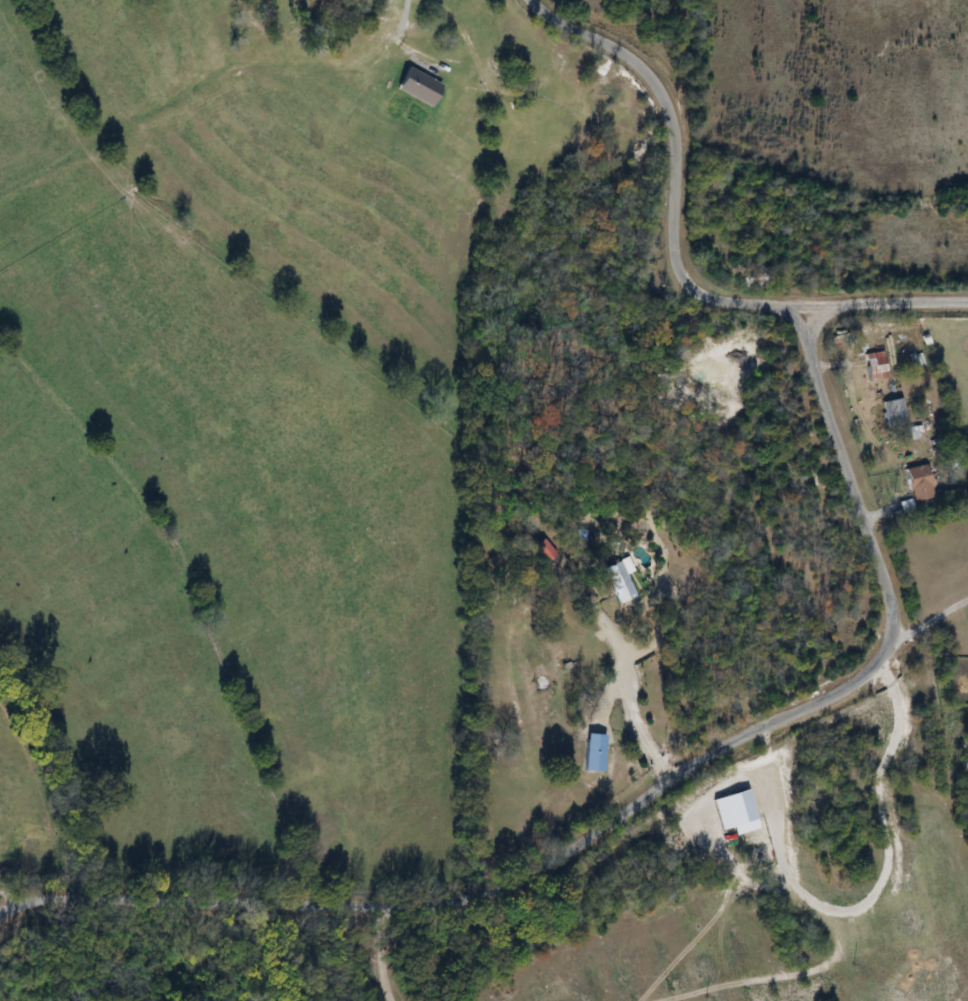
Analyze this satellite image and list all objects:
road: (675, 166)
road: (884, 302)
building: (875, 366)
building: (892, 412)
building: (918, 482)
building: (544, 550)
building: (621, 581)
road: (928, 620)
road: (627, 691)
building: (591, 753)
road: (631, 809)
building: (736, 809)
building: (762, 841)
road: (385, 954)

